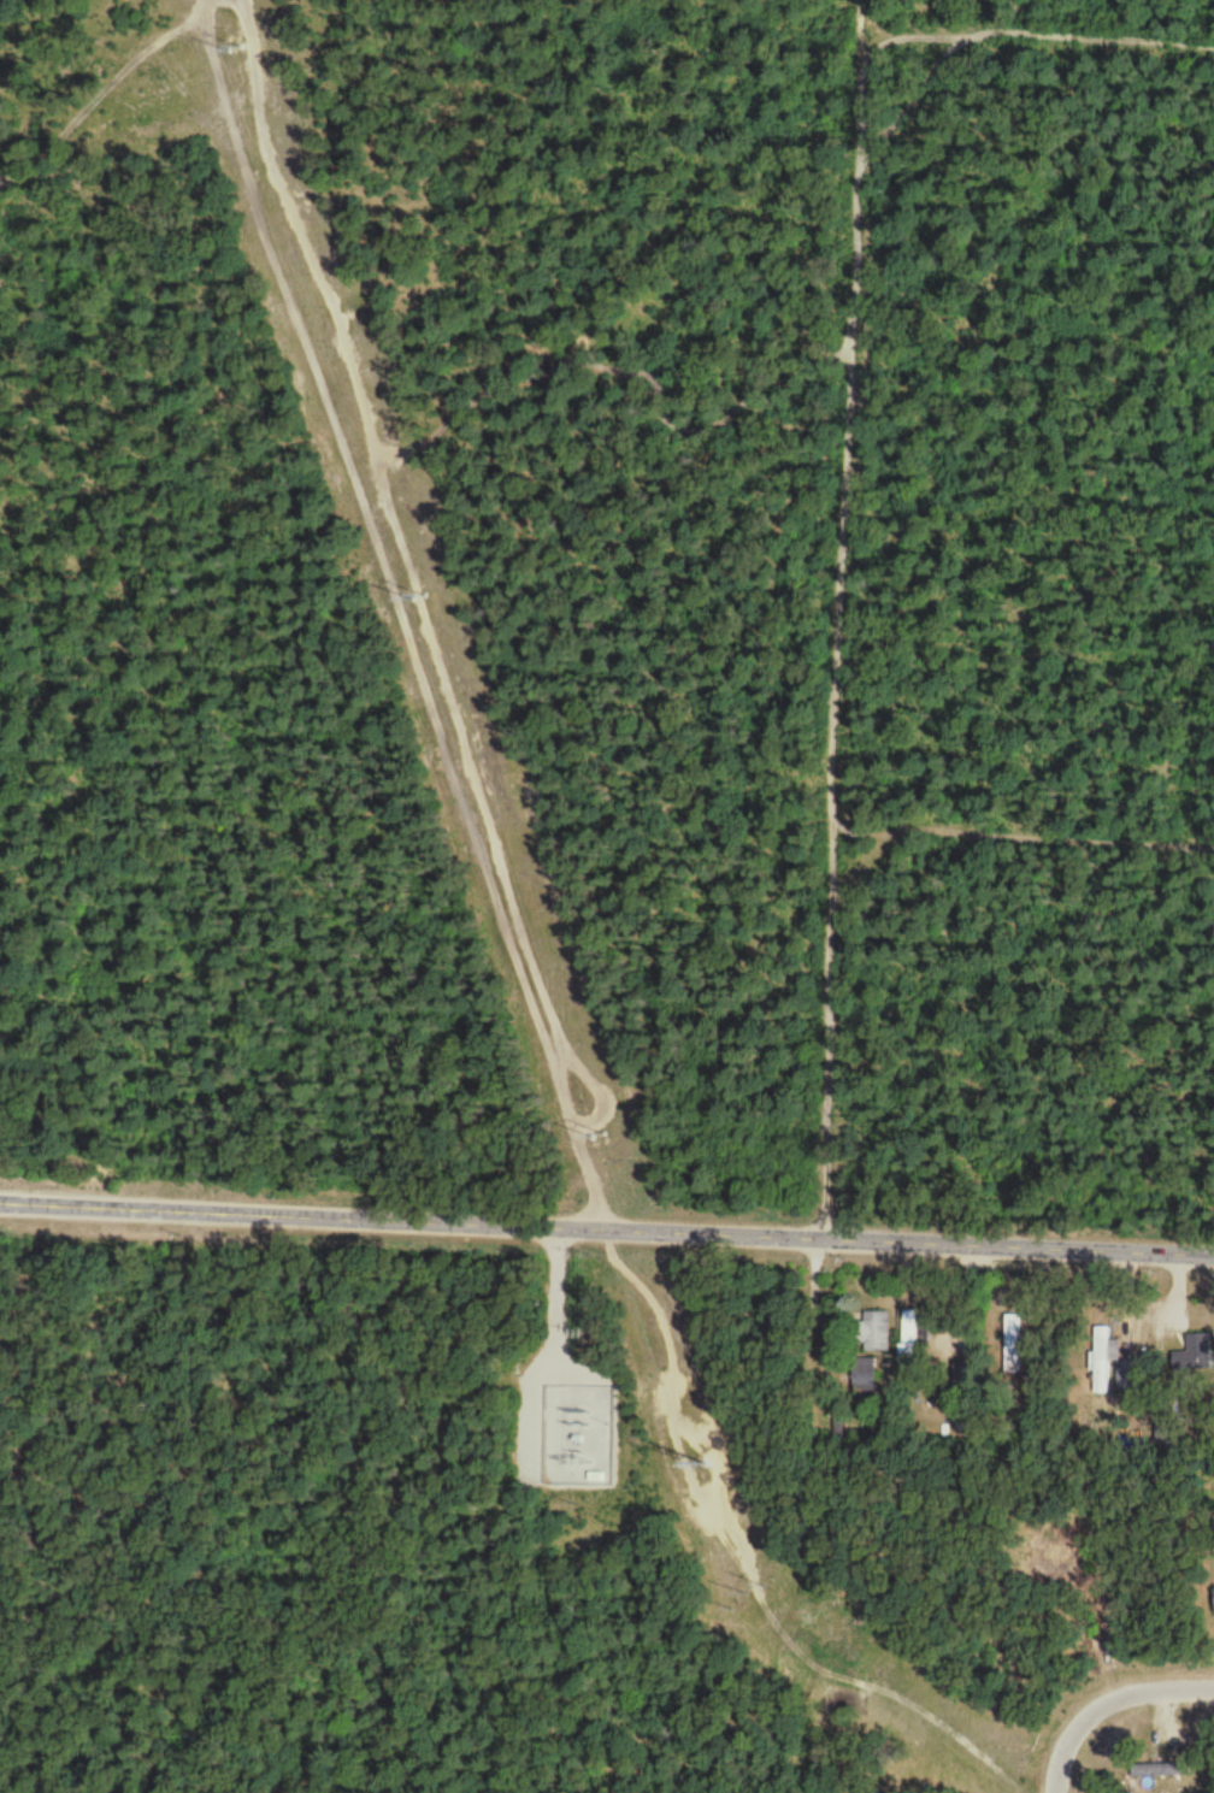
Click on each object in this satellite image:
road: (1062, 36)
power tower: (238, 43)
power tower: (420, 595)
power tower: (602, 1138)
road: (606, 1229)
road: (552, 1299)
building: (873, 1334)
building: (912, 1339)
building: (1016, 1346)
building: (1195, 1356)
building: (1110, 1368)
building: (866, 1378)
power substation: (582, 1429)
power tower: (709, 1462)
road: (825, 1516)
power tower: (756, 1587)
road: (1108, 1708)
building: (1156, 1773)

